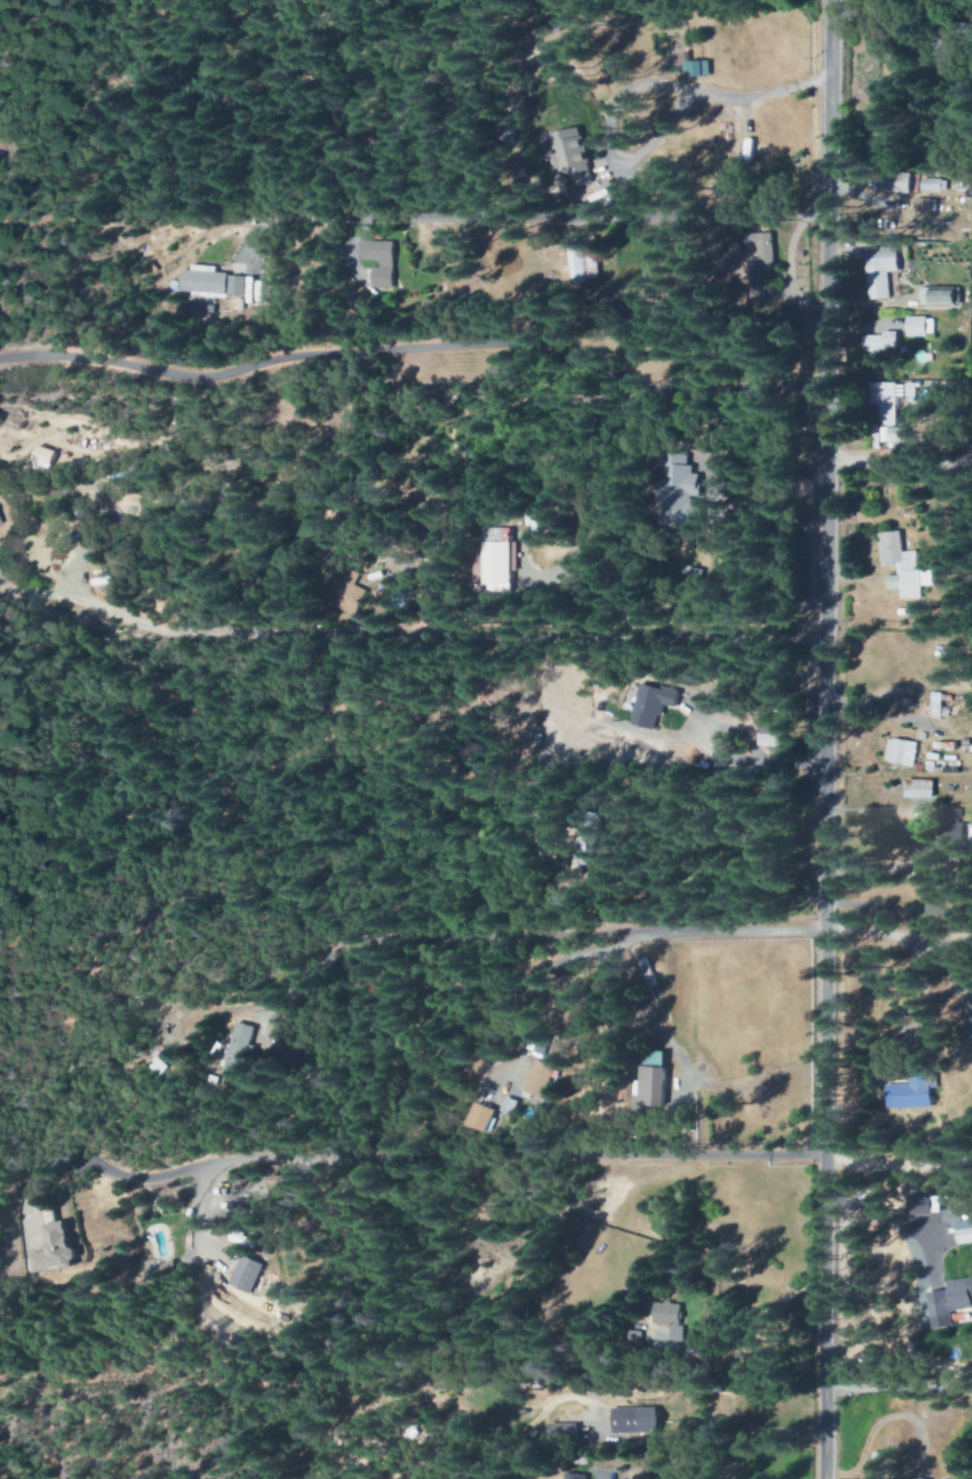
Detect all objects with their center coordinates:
building: (697, 69)
building: (750, 149)
building: (571, 156)
building: (934, 185)
building: (924, 206)
building: (763, 254)
building: (380, 262)
building: (882, 271)
building: (212, 283)
building: (941, 298)
building: (920, 326)
road: (414, 345)
building: (881, 346)
building: (886, 401)
building: (304, 412)
building: (897, 437)
building: (44, 458)
building: (680, 493)
building: (0, 524)
building: (498, 562)
building: (903, 567)
building: (348, 592)
building: (718, 699)
building: (652, 704)
building: (937, 704)
building: (773, 734)
road: (823, 739)
building: (900, 752)
building: (940, 752)
building: (916, 788)
building: (241, 1046)
building: (539, 1046)
building: (542, 1080)
building: (653, 1086)
building: (916, 1093)
building: (511, 1106)
building: (482, 1117)
building: (965, 1231)
building: (55, 1249)
building: (248, 1274)
building: (951, 1302)
building: (673, 1320)
building: (636, 1420)

